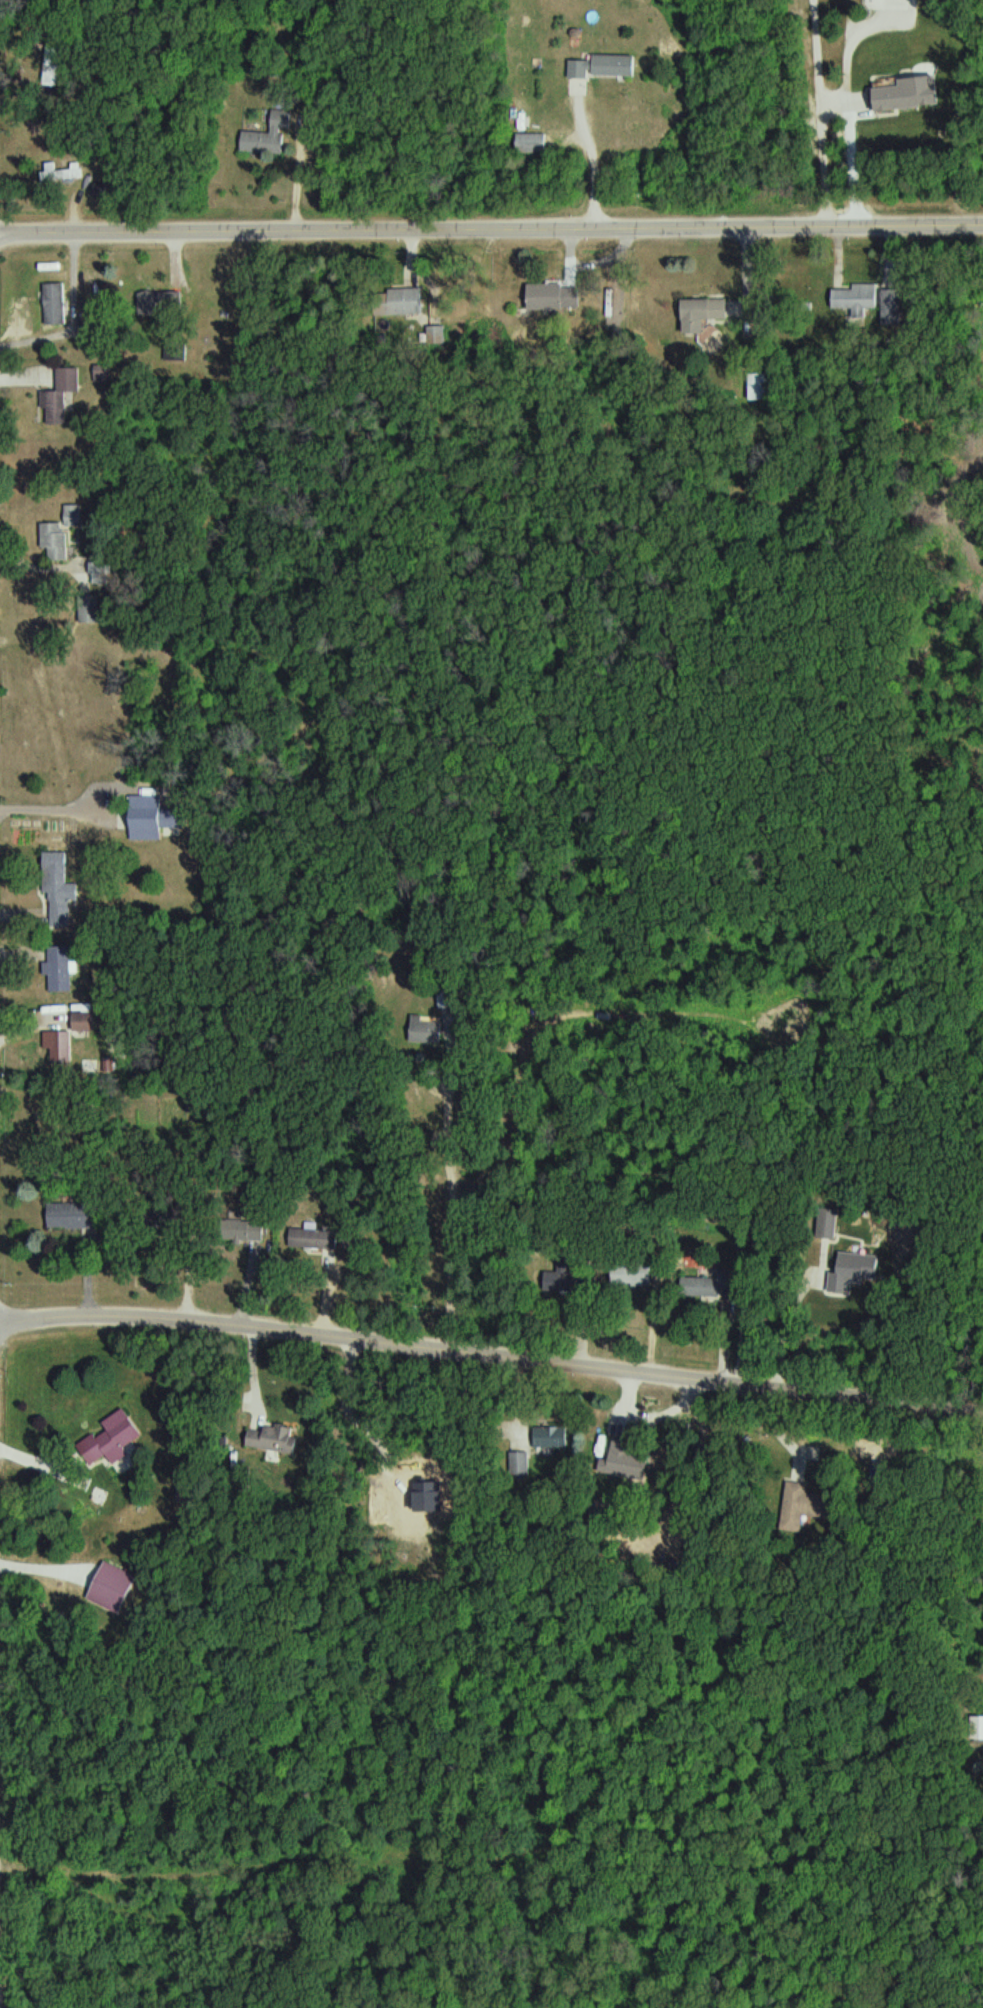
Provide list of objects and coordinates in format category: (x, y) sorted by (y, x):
building: (616, 64)
building: (580, 71)
road: (895, 110)
building: (264, 140)
building: (532, 142)
road: (491, 224)
building: (857, 296)
building: (549, 297)
building: (402, 301)
building: (162, 302)
building: (57, 303)
building: (698, 316)
building: (175, 350)
building: (764, 386)
building: (63, 395)
building: (59, 540)
building: (145, 824)
building: (61, 898)
building: (63, 974)
building: (63, 1046)
building: (71, 1217)
building: (829, 1225)
building: (248, 1227)
building: (307, 1238)
building: (860, 1266)
building: (633, 1272)
building: (570, 1281)
building: (708, 1286)
road: (492, 1351)
building: (553, 1436)
building: (275, 1438)
building: (115, 1440)
building: (627, 1455)
building: (796, 1506)
building: (114, 1586)
building: (980, 1726)

